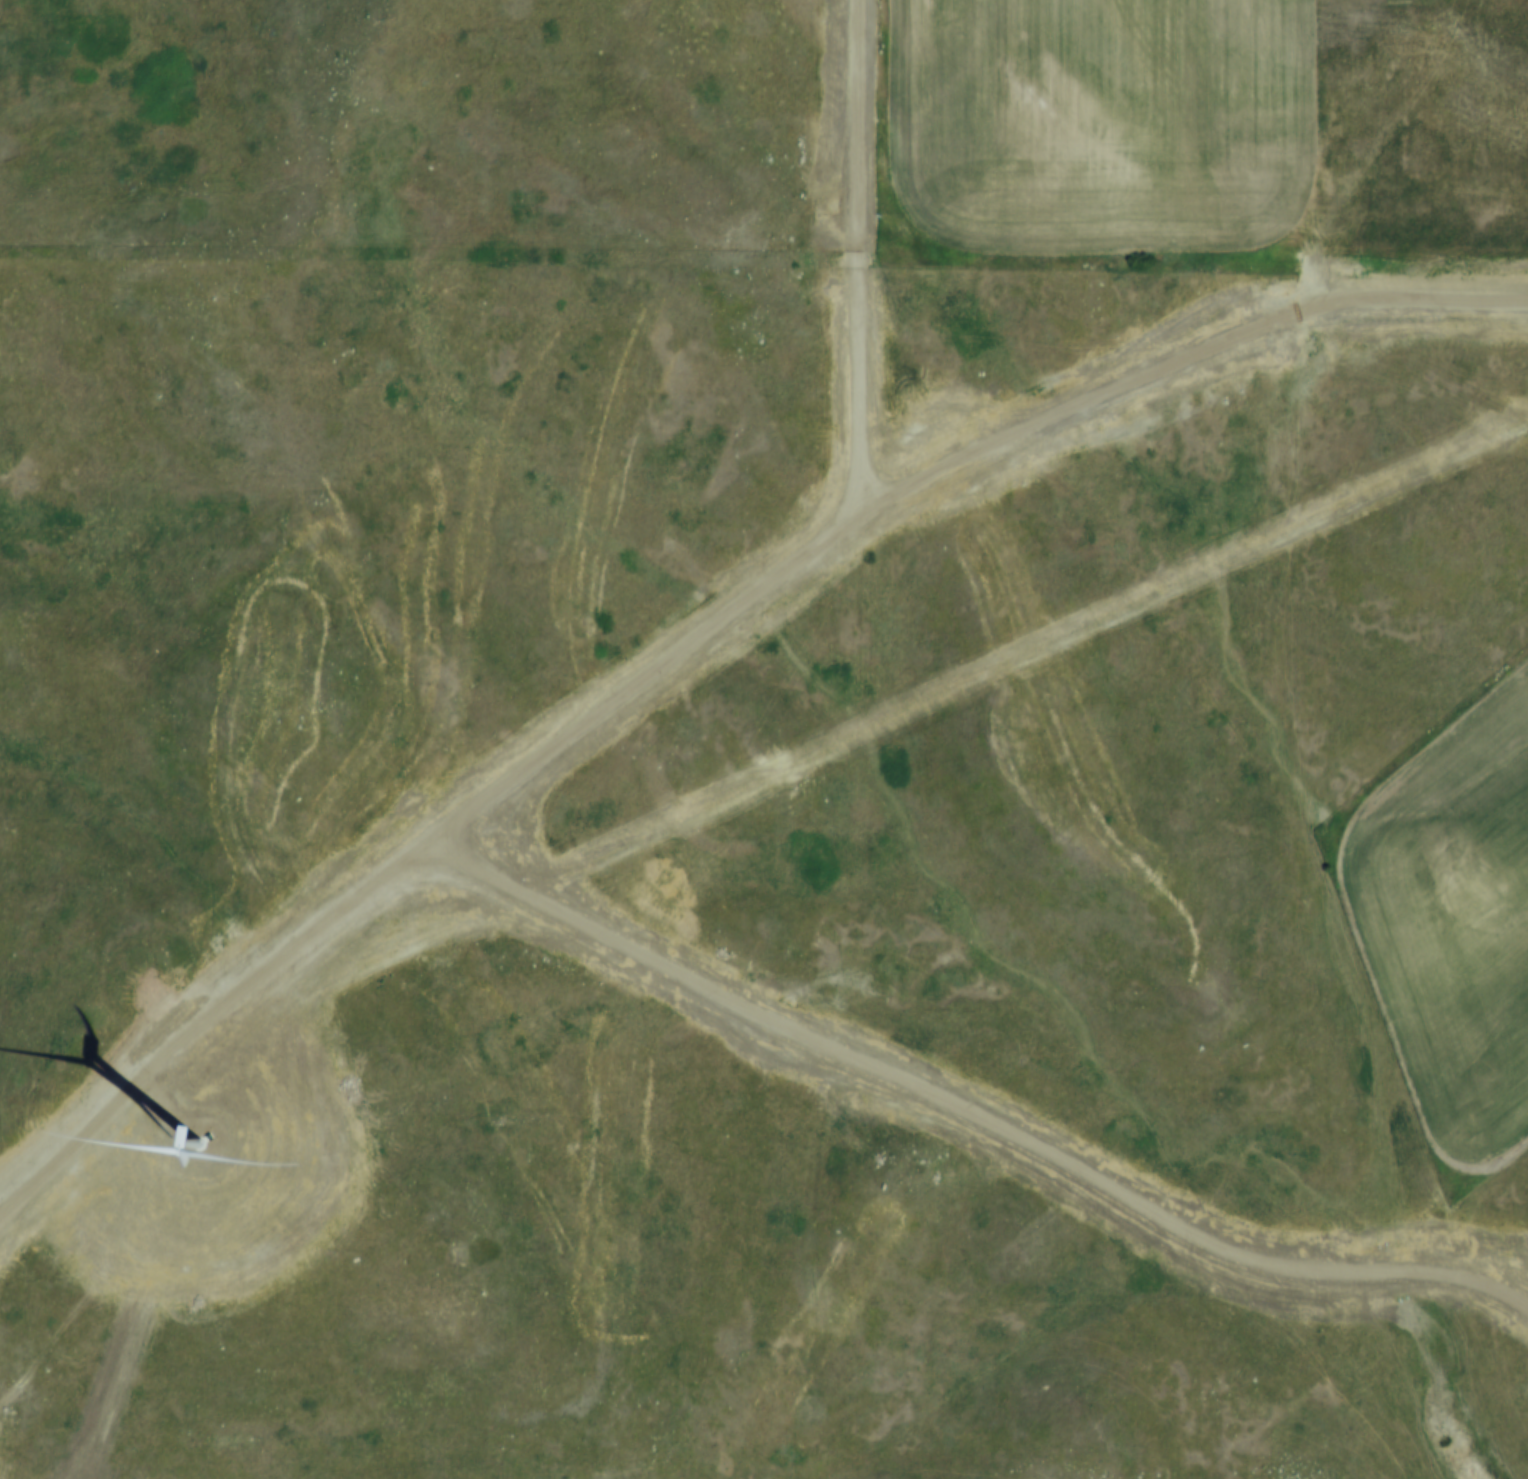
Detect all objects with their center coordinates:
road: (869, 278)
road: (717, 651)
wind turbine: (184, 1112)
road: (970, 1128)

